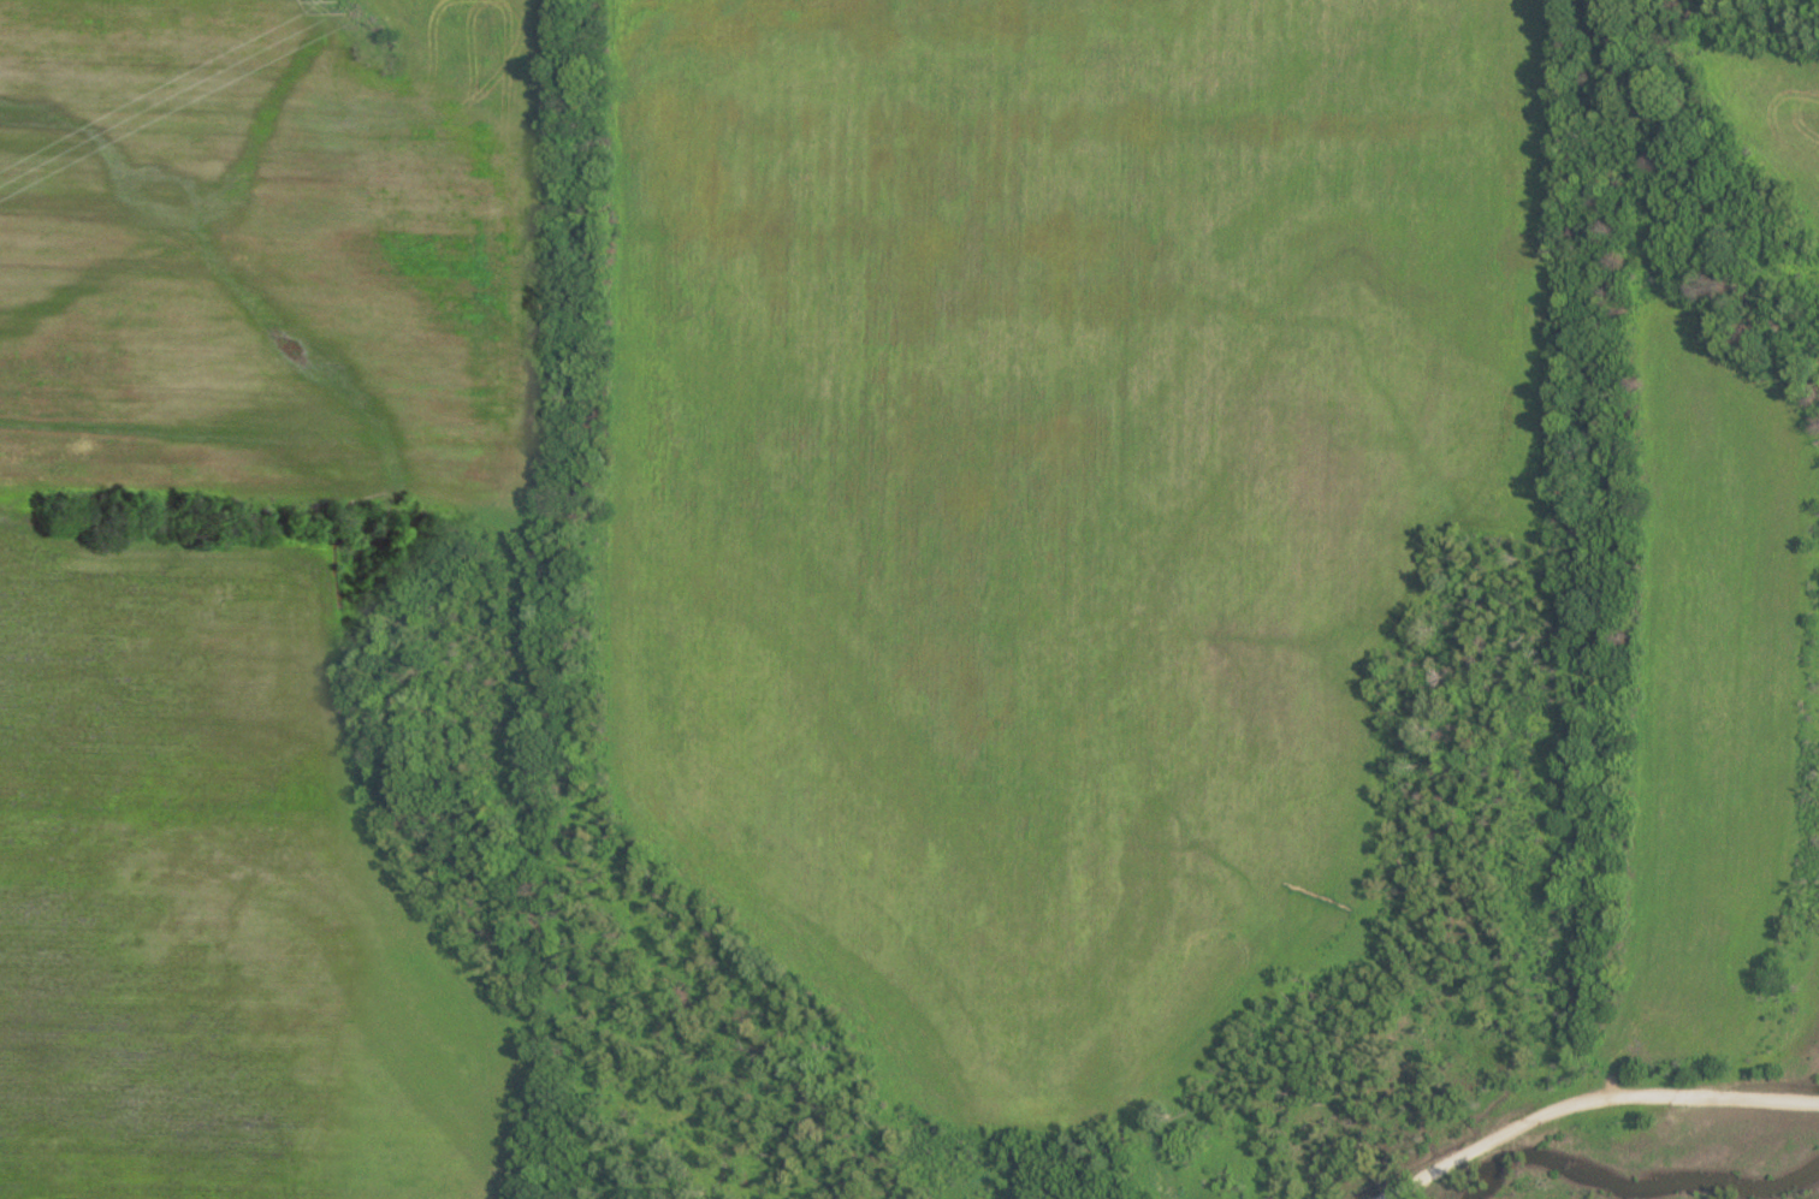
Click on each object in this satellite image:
power tower: (348, 11)
road: (1566, 1098)

